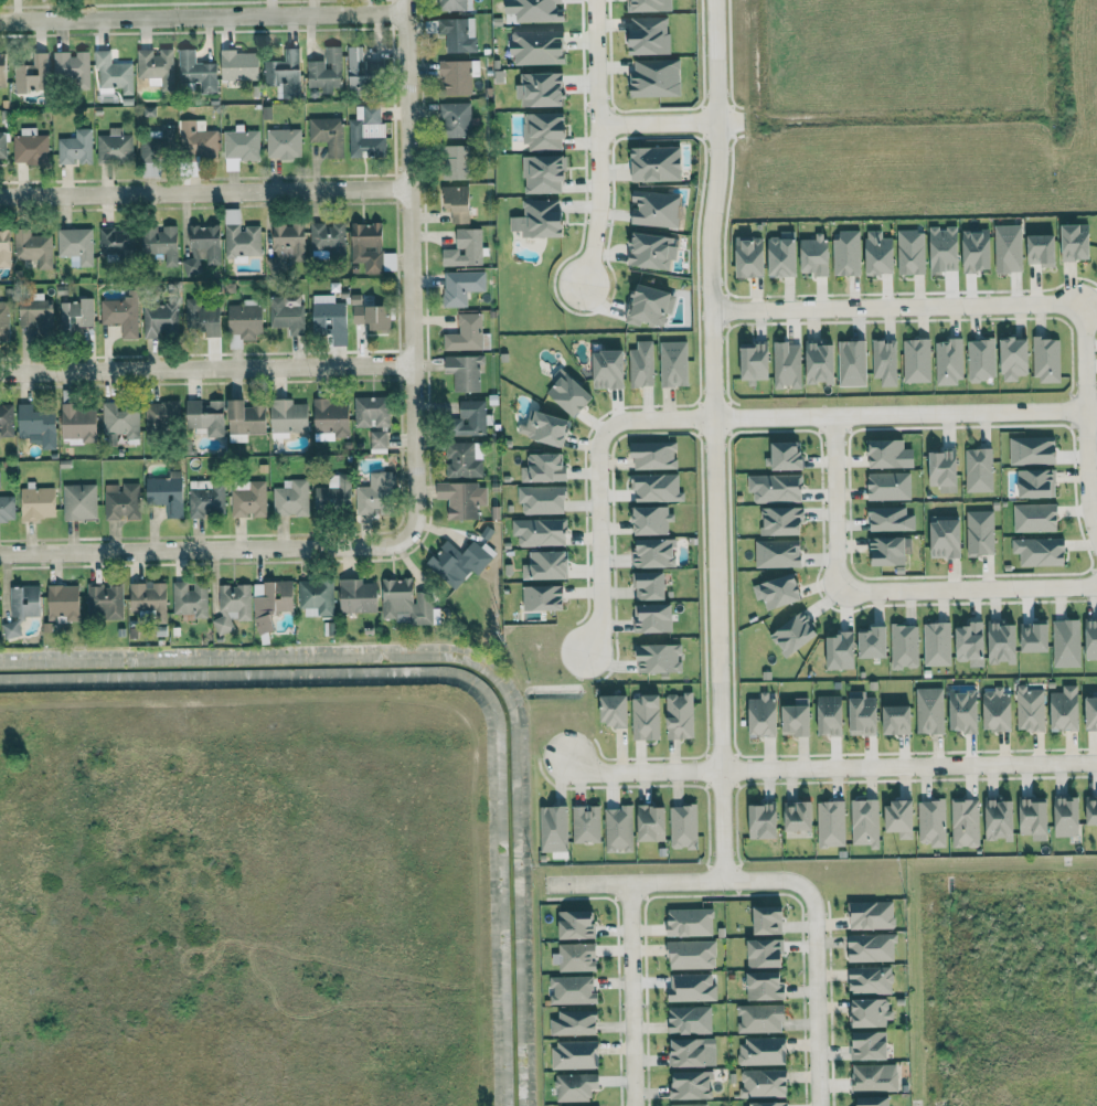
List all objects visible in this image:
building: (451, 6)
building: (649, 6)
park: (173, 8)
building: (537, 11)
road: (202, 17)
building: (458, 34)
building: (649, 36)
building: (537, 47)
road: (596, 61)
building: (238, 65)
building: (156, 66)
building: (72, 67)
building: (360, 67)
building: (3, 68)
building: (326, 70)
building: (196, 71)
building: (113, 72)
building: (30, 73)
building: (457, 76)
building: (654, 78)
building: (541, 91)
building: (455, 119)
road: (657, 119)
building: (544, 130)
building: (366, 132)
building: (328, 134)
building: (196, 138)
building: (158, 143)
building: (241, 143)
building: (283, 143)
building: (2, 146)
building: (114, 146)
building: (30, 147)
building: (75, 148)
building: (455, 161)
building: (656, 163)
building: (543, 173)
road: (205, 192)
building: (457, 202)
road: (594, 204)
road: (709, 206)
building: (654, 209)
building: (539, 219)
building: (239, 235)
building: (328, 237)
building: (113, 240)
building: (287, 241)
building: (160, 242)
building: (1076, 242)
building: (75, 244)
building: (366, 245)
building: (32, 247)
building: (1008, 247)
building: (4, 248)
building: (202, 248)
building: (465, 248)
building: (1041, 248)
building: (651, 249)
building: (944, 249)
building: (977, 249)
building: (878, 252)
building: (910, 252)
building: (846, 253)
building: (782, 254)
building: (813, 255)
building: (749, 256)
road: (414, 268)
building: (461, 286)
building: (649, 305)
road: (892, 305)
building: (34, 311)
building: (75, 313)
building: (120, 316)
building: (285, 316)
building: (370, 316)
building: (203, 317)
building: (329, 317)
building: (159, 318)
building: (245, 319)
building: (3, 321)
building: (467, 333)
road: (1080, 354)
building: (1014, 358)
building: (981, 359)
building: (1046, 359)
building: (916, 360)
building: (754, 361)
building: (884, 361)
building: (851, 362)
building: (948, 362)
building: (673, 363)
building: (820, 363)
building: (641, 364)
building: (787, 364)
road: (206, 369)
building: (608, 369)
building: (464, 372)
building: (568, 392)
road: (1090, 408)
building: (371, 411)
road: (896, 411)
building: (161, 414)
building: (206, 416)
building: (288, 416)
building: (470, 417)
building: (6, 419)
building: (119, 419)
building: (244, 419)
building: (330, 419)
building: (78, 423)
building: (36, 425)
building: (545, 427)
building: (377, 439)
building: (1032, 450)
building: (890, 454)
building: (653, 455)
building: (786, 456)
building: (461, 460)
building: (543, 467)
building: (978, 469)
building: (942, 470)
road: (1085, 472)
road: (595, 481)
building: (1036, 483)
building: (888, 486)
building: (656, 487)
building: (777, 488)
building: (166, 492)
building: (333, 494)
building: (375, 494)
building: (205, 497)
building: (290, 498)
building: (461, 499)
building: (542, 499)
building: (248, 500)
building: (78, 501)
building: (121, 501)
parking lot: (924, 502)
building: (36, 503)
building: (7, 509)
building: (1035, 517)
building: (890, 519)
building: (651, 520)
building: (781, 520)
building: (543, 532)
building: (980, 532)
building: (945, 539)
road: (205, 546)
road: (714, 549)
building: (887, 551)
building: (1040, 551)
building: (653, 552)
building: (777, 553)
building: (456, 563)
building: (545, 565)
building: (649, 585)
building: (778, 592)
road: (877, 595)
building: (356, 596)
building: (316, 597)
building: (542, 597)
building: (149, 598)
building: (190, 599)
building: (105, 600)
building: (405, 602)
building: (63, 603)
building: (270, 603)
building: (233, 606)
building: (21, 607)
building: (652, 618)
building: (794, 634)
building: (1034, 637)
building: (1090, 639)
building: (873, 642)
building: (1002, 642)
building: (936, 644)
building: (970, 644)
building: (1066, 644)
building: (904, 646)
building: (840, 650)
building: (658, 658)
building: (1065, 708)
building: (1030, 709)
building: (614, 710)
building: (929, 710)
building: (997, 710)
building: (963, 711)
building: (1091, 712)
building: (862, 713)
building: (679, 715)
building: (763, 715)
building: (829, 715)
building: (645, 717)
building: (796, 717)
building: (896, 720)
road: (908, 766)
road: (640, 773)
road: (721, 783)
building: (1091, 810)
building: (798, 816)
building: (1066, 816)
building: (1034, 818)
building: (899, 819)
building: (999, 820)
building: (763, 821)
building: (864, 821)
building: (931, 822)
building: (965, 822)
building: (586, 823)
building: (651, 823)
building: (830, 823)
building: (682, 827)
building: (553, 828)
building: (618, 829)
road: (675, 882)
building: (871, 915)
building: (767, 919)
building: (690, 922)
building: (576, 924)
building: (870, 947)
building: (765, 953)
building: (691, 954)
building: (575, 957)
building: (871, 980)
building: (764, 986)
building: (691, 987)
building: (573, 990)
road: (630, 995)
road: (816, 996)
building: (871, 1012)
building: (760, 1018)
building: (689, 1020)
building: (574, 1022)
building: (869, 1045)
building: (761, 1051)
building: (692, 1052)
building: (574, 1054)
building: (874, 1077)
building: (763, 1083)
building: (691, 1085)
building: (575, 1087)
building: (871, 1102)
building: (768, 1104)
building: (690, 1105)

